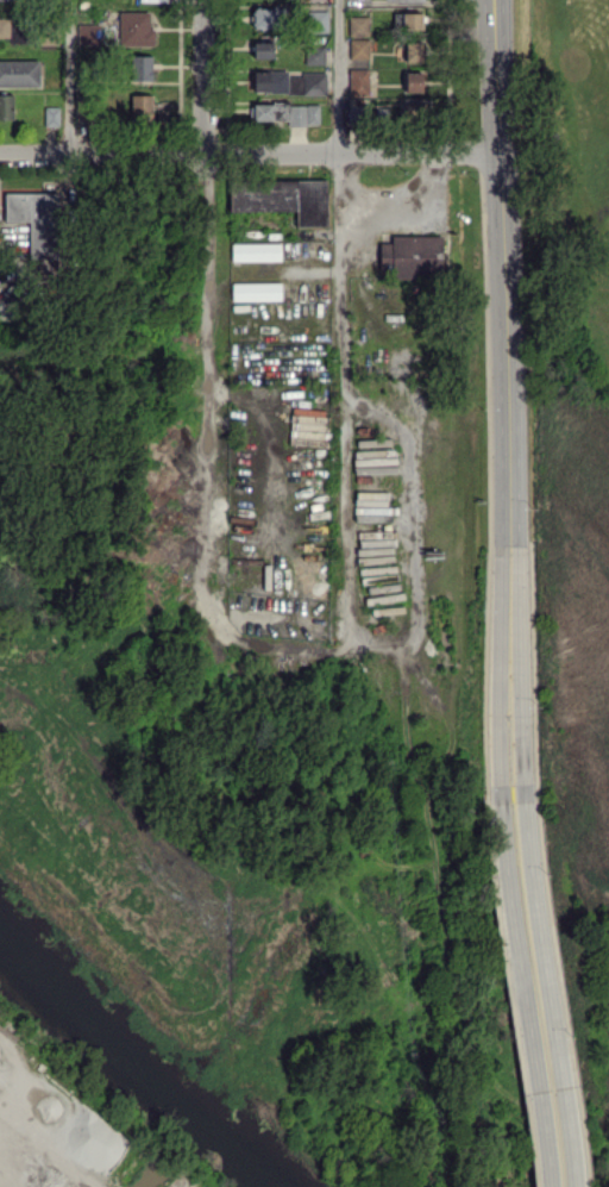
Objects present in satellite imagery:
building: (315, 0)
building: (404, 0)
building: (265, 15)
building: (318, 20)
building: (407, 20)
building: (358, 25)
building: (13, 29)
building: (134, 29)
building: (359, 48)
building: (263, 49)
building: (408, 51)
building: (315, 54)
building: (139, 68)
building: (19, 73)
road: (69, 76)
building: (270, 81)
building: (358, 81)
building: (412, 81)
building: (308, 82)
building: (6, 106)
building: (140, 107)
building: (262, 111)
building: (415, 112)
building: (358, 113)
building: (51, 115)
road: (249, 152)
building: (282, 198)
park: (565, 205)
road: (417, 210)
building: (34, 220)
building: (256, 251)
building: (412, 255)
road: (294, 268)
building: (256, 290)
road: (502, 318)
road: (209, 321)
road: (340, 323)
road: (413, 533)
road: (280, 645)
road: (520, 718)
road: (500, 719)
road: (525, 994)
road: (548, 994)
river: (133, 1066)

